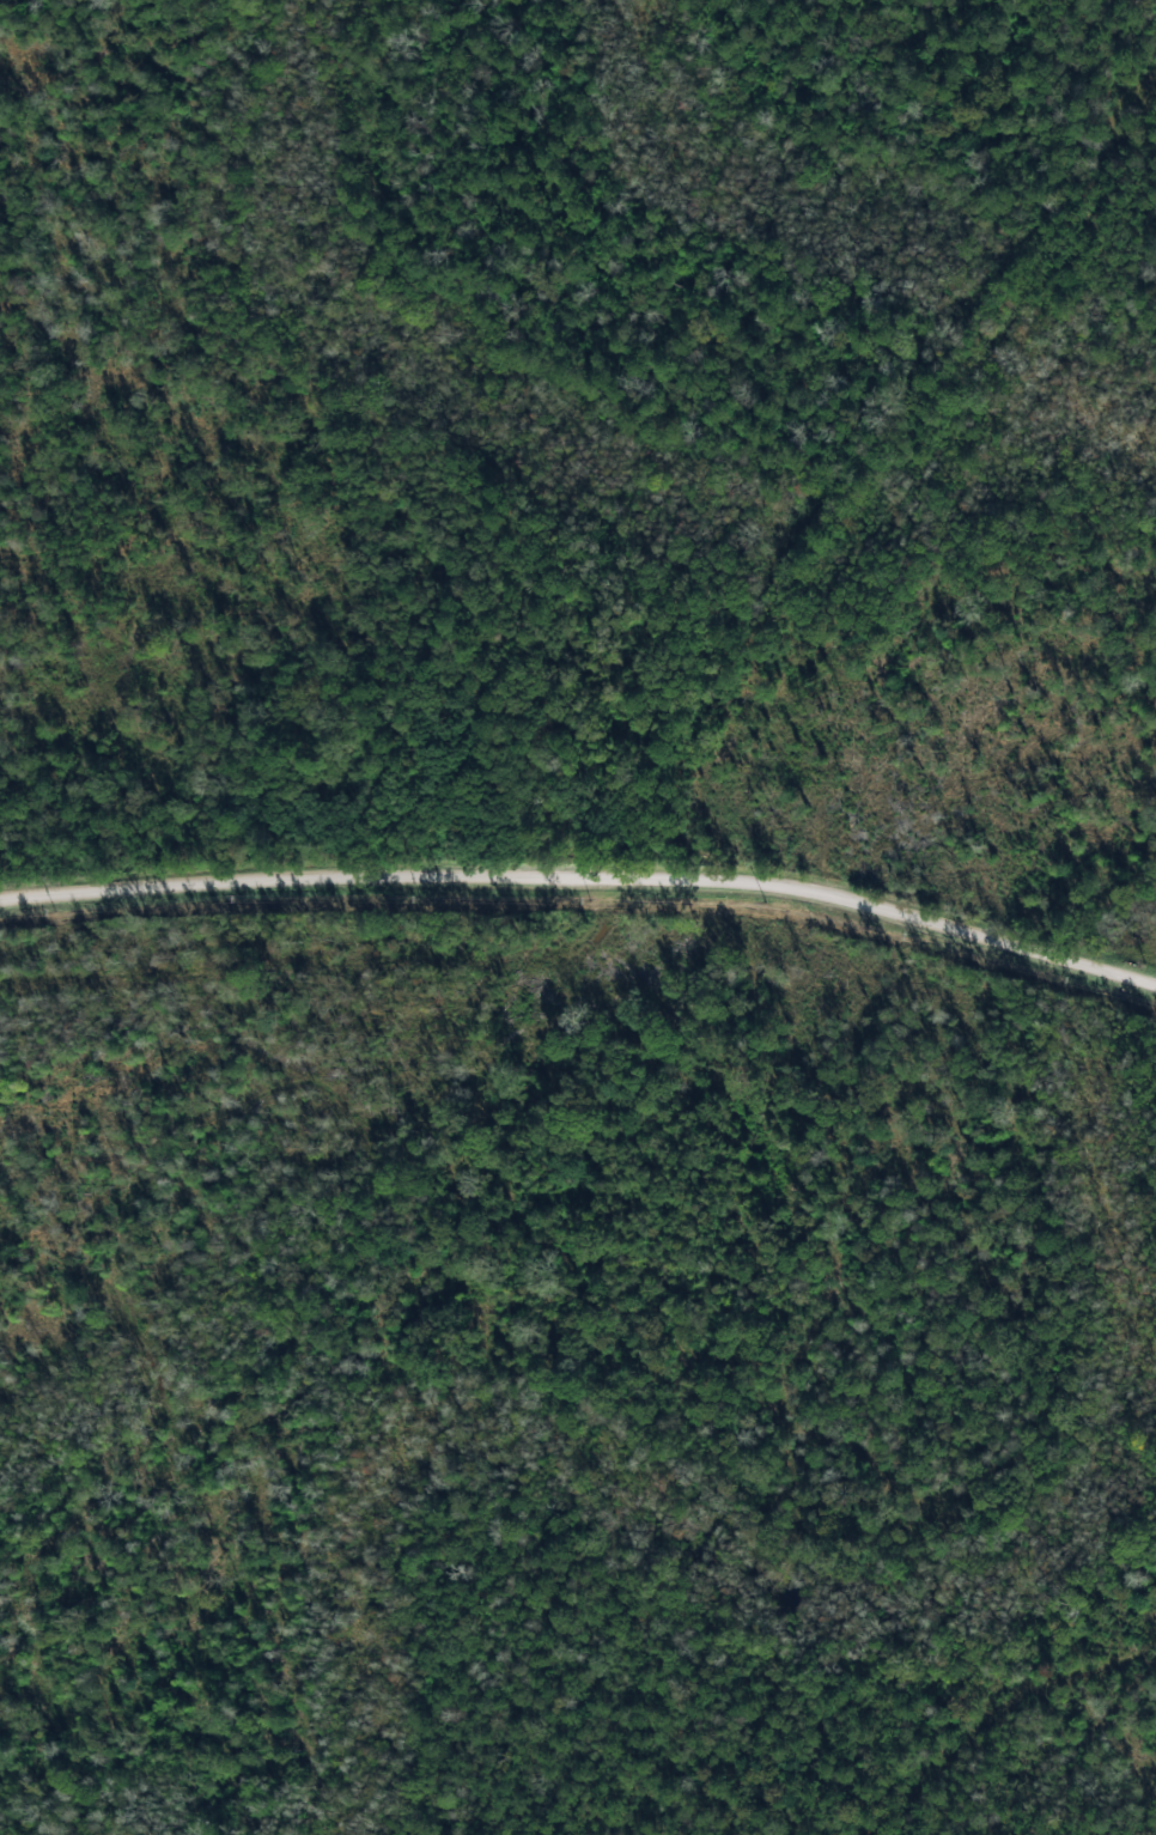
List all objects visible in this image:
road: (842, 433)
road: (583, 865)

